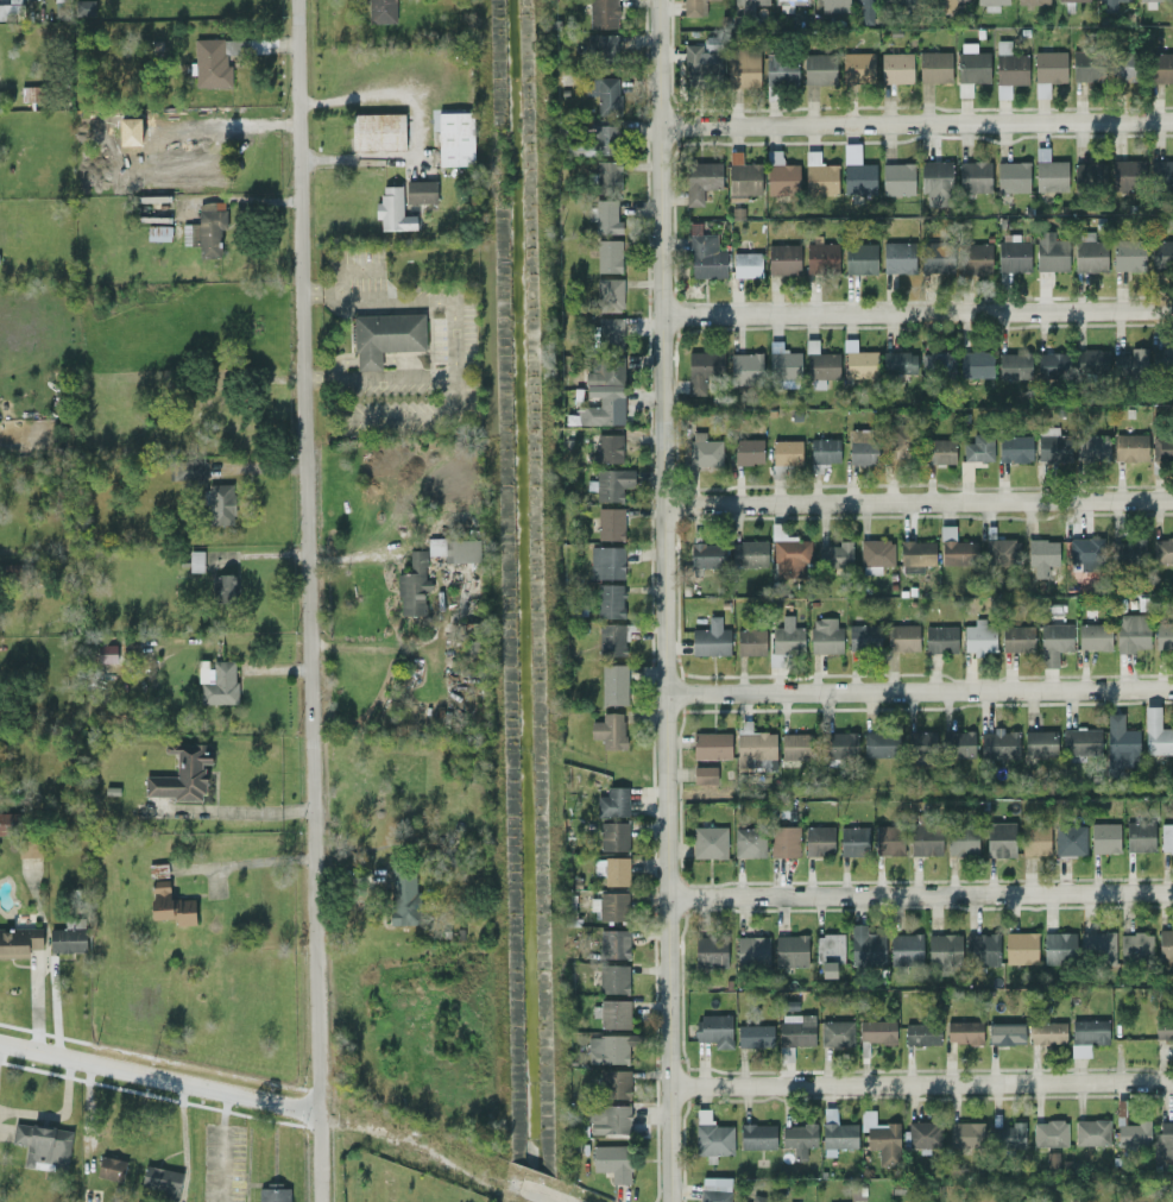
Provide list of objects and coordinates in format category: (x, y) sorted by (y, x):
building: (912, 0)
building: (957, 0)
building: (1074, 0)
building: (1149, 0)
building: (751, 1)
building: (1032, 1)
building: (991, 4)
building: (787, 5)
building: (831, 5)
building: (1108, 5)
building: (84, 7)
building: (694, 7)
building: (10, 11)
building: (380, 11)
building: (864, 12)
building: (603, 13)
building: (605, 48)
building: (215, 61)
building: (701, 64)
building: (1124, 64)
building: (1090, 65)
building: (857, 67)
building: (934, 67)
building: (971, 67)
building: (1049, 67)
building: (743, 68)
building: (896, 68)
building: (1162, 68)
building: (781, 69)
building: (819, 69)
building: (1041, 89)
building: (31, 94)
building: (607, 95)
road: (917, 122)
road: (415, 127)
building: (377, 131)
building: (455, 139)
building: (605, 139)
building: (1049, 174)
building: (1090, 174)
building: (1161, 174)
building: (781, 175)
building: (819, 175)
building: (1128, 175)
building: (1013, 176)
building: (743, 177)
building: (975, 177)
building: (858, 178)
building: (897, 178)
building: (701, 180)
building: (936, 182)
building: (420, 191)
building: (392, 209)
building: (204, 229)
building: (1051, 251)
building: (1089, 252)
building: (1013, 253)
building: (705, 254)
building: (1161, 254)
building: (608, 256)
building: (1128, 256)
building: (898, 257)
building: (936, 257)
building: (975, 257)
building: (859, 258)
building: (783, 259)
building: (746, 264)
road: (349, 270)
building: (608, 295)
road: (917, 313)
building: (610, 331)
building: (385, 336)
road: (452, 354)
road: (368, 360)
building: (1162, 360)
building: (782, 361)
building: (858, 361)
building: (1091, 361)
building: (820, 363)
building: (898, 363)
building: (936, 363)
building: (1130, 363)
building: (976, 364)
building: (1053, 365)
building: (1014, 366)
building: (745, 367)
building: (701, 370)
building: (605, 373)
road: (377, 379)
building: (601, 411)
building: (897, 443)
building: (1053, 445)
building: (863, 446)
building: (608, 447)
building: (1092, 447)
building: (1131, 447)
building: (978, 448)
building: (1015, 448)
building: (1161, 448)
building: (704, 451)
building: (748, 451)
building: (824, 451)
building: (940, 451)
building: (786, 452)
building: (187, 467)
building: (612, 484)
road: (919, 501)
building: (219, 504)
building: (610, 523)
building: (454, 549)
building: (957, 549)
building: (1163, 550)
building: (1002, 552)
building: (1129, 552)
building: (908, 553)
building: (1086, 553)
building: (707, 554)
building: (749, 554)
road: (307, 555)
building: (834, 555)
building: (875, 555)
building: (1041, 556)
building: (790, 558)
building: (195, 561)
building: (606, 561)
building: (412, 585)
building: (223, 586)
building: (608, 600)
road: (667, 600)
building: (1131, 631)
building: (825, 635)
building: (1163, 635)
building: (1093, 636)
building: (864, 637)
building: (902, 637)
building: (978, 637)
building: (710, 638)
building: (940, 638)
building: (1017, 638)
building: (612, 640)
building: (787, 640)
building: (750, 642)
building: (1054, 642)
building: (473, 650)
building: (106, 653)
building: (217, 682)
building: (613, 684)
road: (920, 690)
building: (608, 730)
building: (1155, 734)
building: (1040, 742)
building: (1080, 742)
building: (1121, 742)
building: (958, 743)
building: (841, 744)
building: (881, 744)
building: (921, 744)
building: (999, 744)
building: (711, 745)
building: (796, 745)
building: (181, 773)
building: (704, 774)
building: (613, 801)
road: (261, 811)
building: (8, 823)
building: (613, 836)
building: (1140, 837)
building: (1105, 838)
building: (1166, 838)
building: (888, 839)
building: (926, 839)
building: (999, 839)
building: (1070, 839)
building: (818, 841)
building: (853, 841)
building: (961, 841)
building: (1035, 841)
building: (708, 842)
building: (749, 842)
building: (784, 842)
building: (30, 848)
road: (263, 862)
building: (157, 870)
building: (613, 870)
road: (920, 895)
building: (403, 896)
building: (170, 905)
building: (612, 906)
building: (68, 936)
building: (18, 942)
building: (613, 944)
building: (1165, 944)
building: (866, 946)
building: (1097, 946)
building: (1135, 946)
building: (1021, 948)
building: (1059, 948)
building: (944, 949)
building: (983, 949)
building: (790, 950)
building: (906, 950)
building: (710, 951)
building: (751, 951)
building: (828, 952)
building: (612, 977)
building: (612, 1013)
building: (714, 1030)
building: (796, 1030)
building: (1163, 1030)
building: (878, 1031)
building: (964, 1032)
building: (835, 1033)
building: (921, 1033)
building: (1005, 1033)
building: (1048, 1033)
building: (755, 1036)
building: (1086, 1036)
building: (610, 1047)
road: (157, 1077)
road: (922, 1083)
building: (610, 1119)
building: (1091, 1132)
building: (835, 1133)
building: (1049, 1133)
building: (965, 1134)
building: (1134, 1134)
building: (923, 1135)
building: (1008, 1135)
building: (757, 1137)
building: (799, 1138)
building: (881, 1138)
building: (713, 1139)
building: (1166, 1139)
building: (43, 1145)
road: (409, 1147)
road: (315, 1157)
building: (613, 1162)
building: (111, 1168)
building: (160, 1179)
building: (714, 1189)
road: (526, 1192)
building: (273, 1194)
building: (758, 1198)

